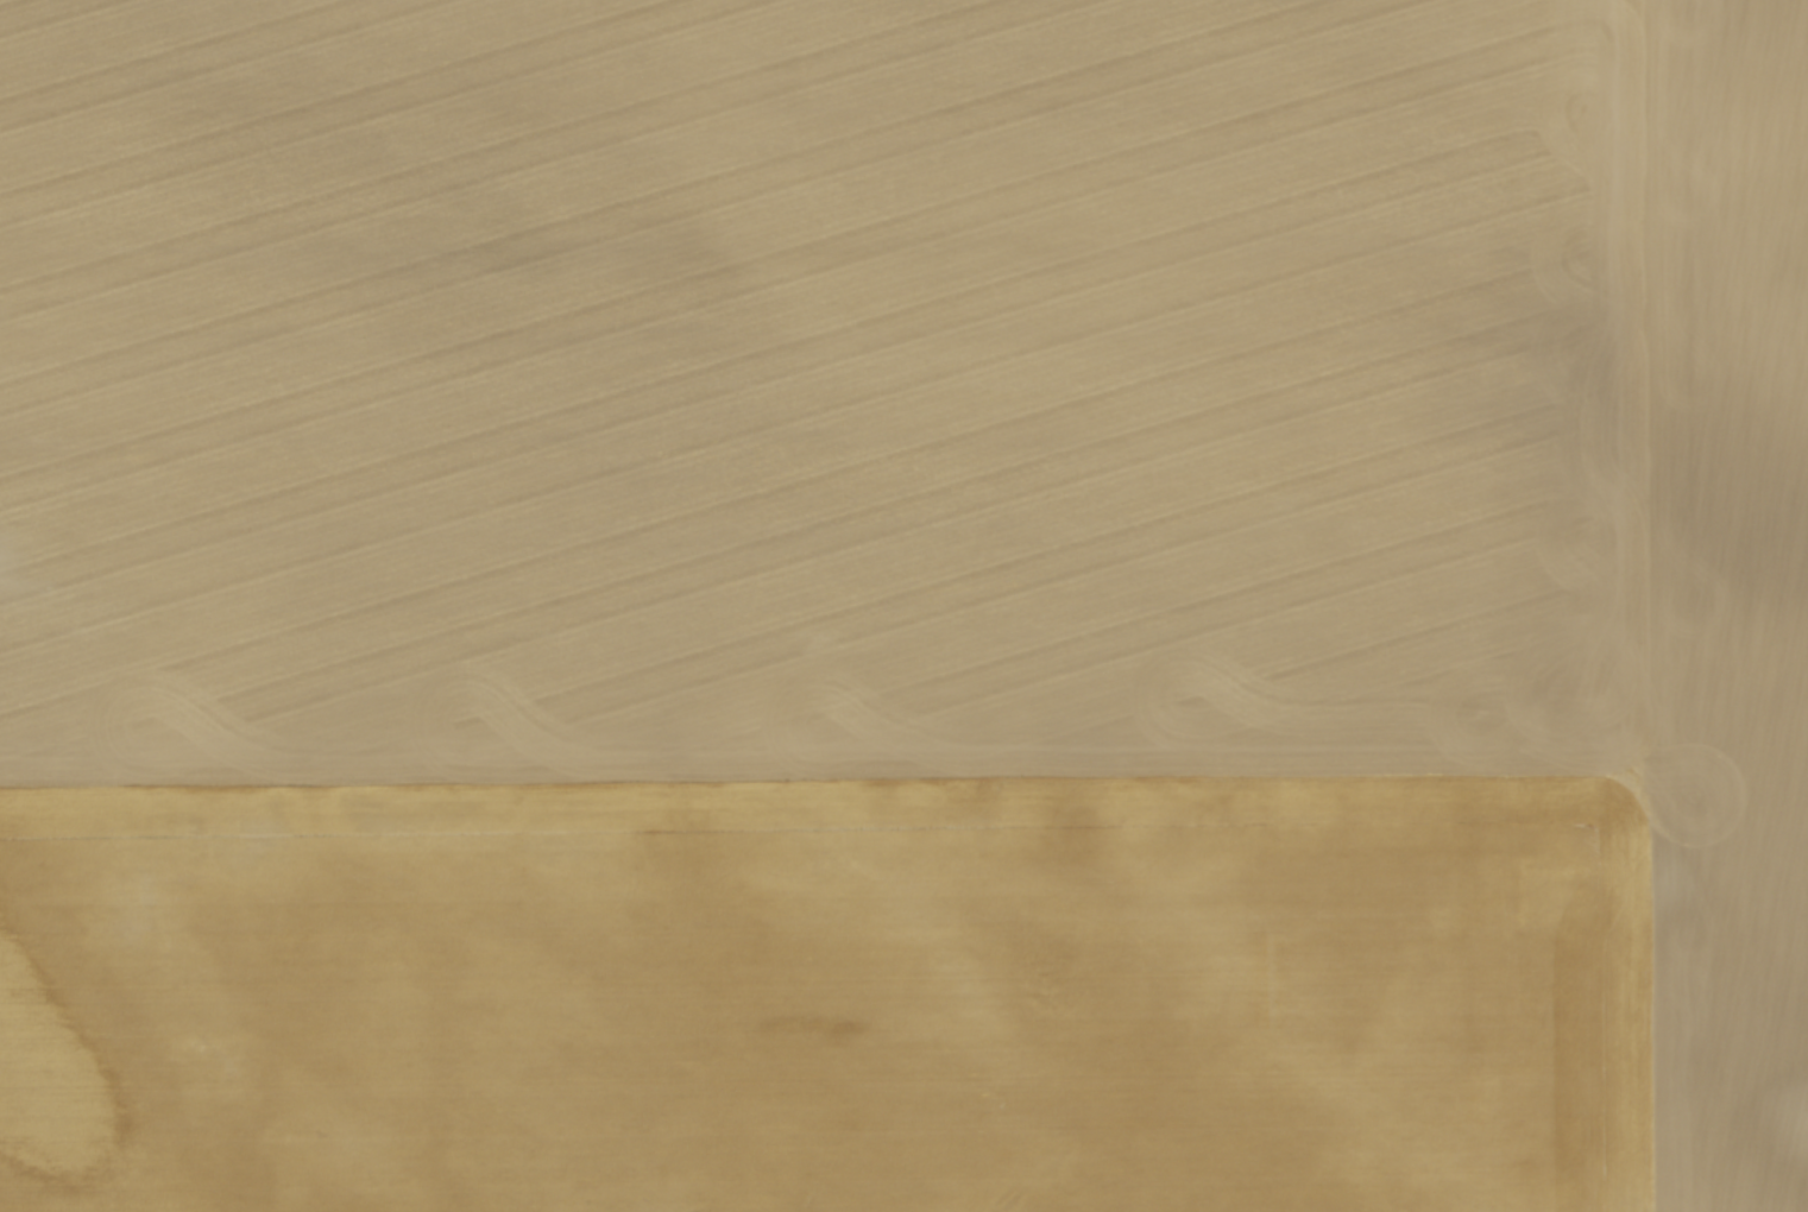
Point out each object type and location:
crop: (903, 606)

